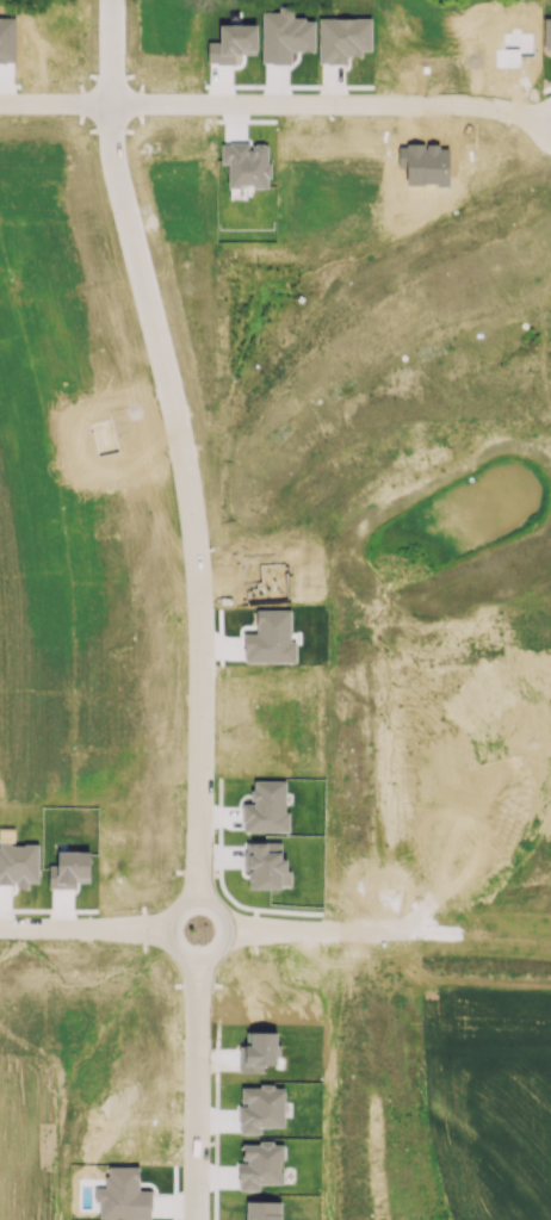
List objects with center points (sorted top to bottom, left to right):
road: (275, 99)
road: (179, 429)
road: (205, 884)
road: (186, 885)
road: (199, 899)
road: (83, 922)
road: (389, 928)
road: (204, 976)
road: (187, 977)
road: (194, 1108)

